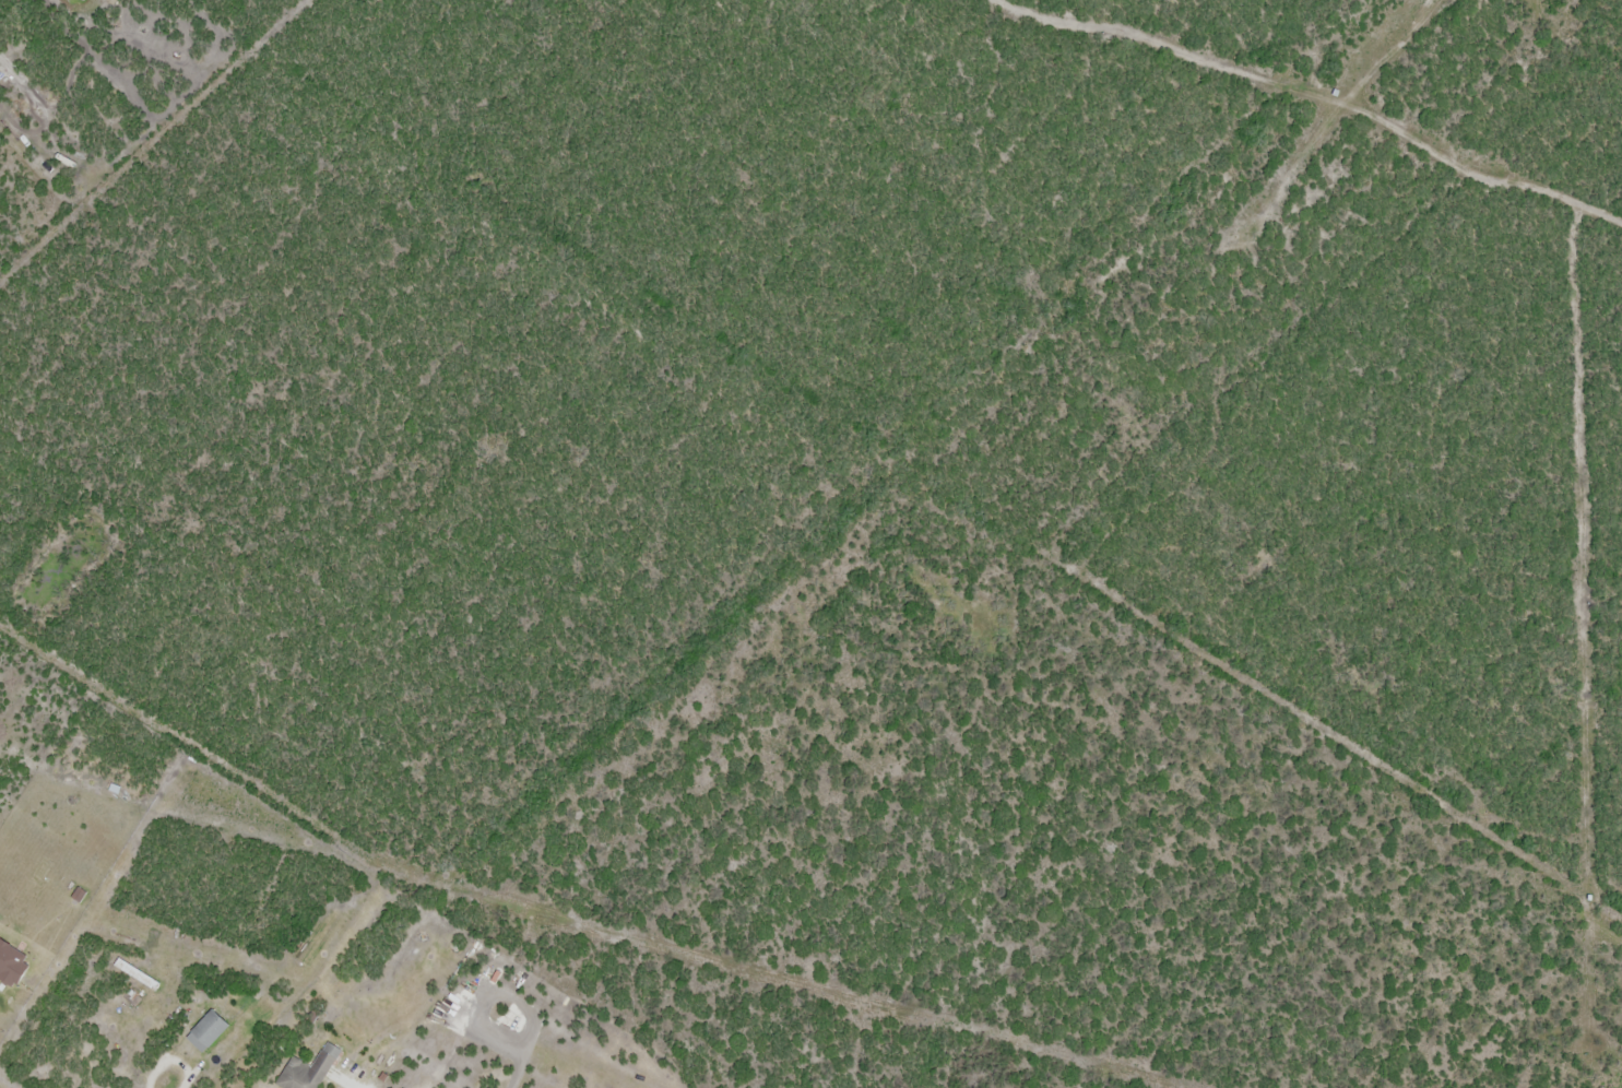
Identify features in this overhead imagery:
building: (209, 1030)
building: (306, 1074)

